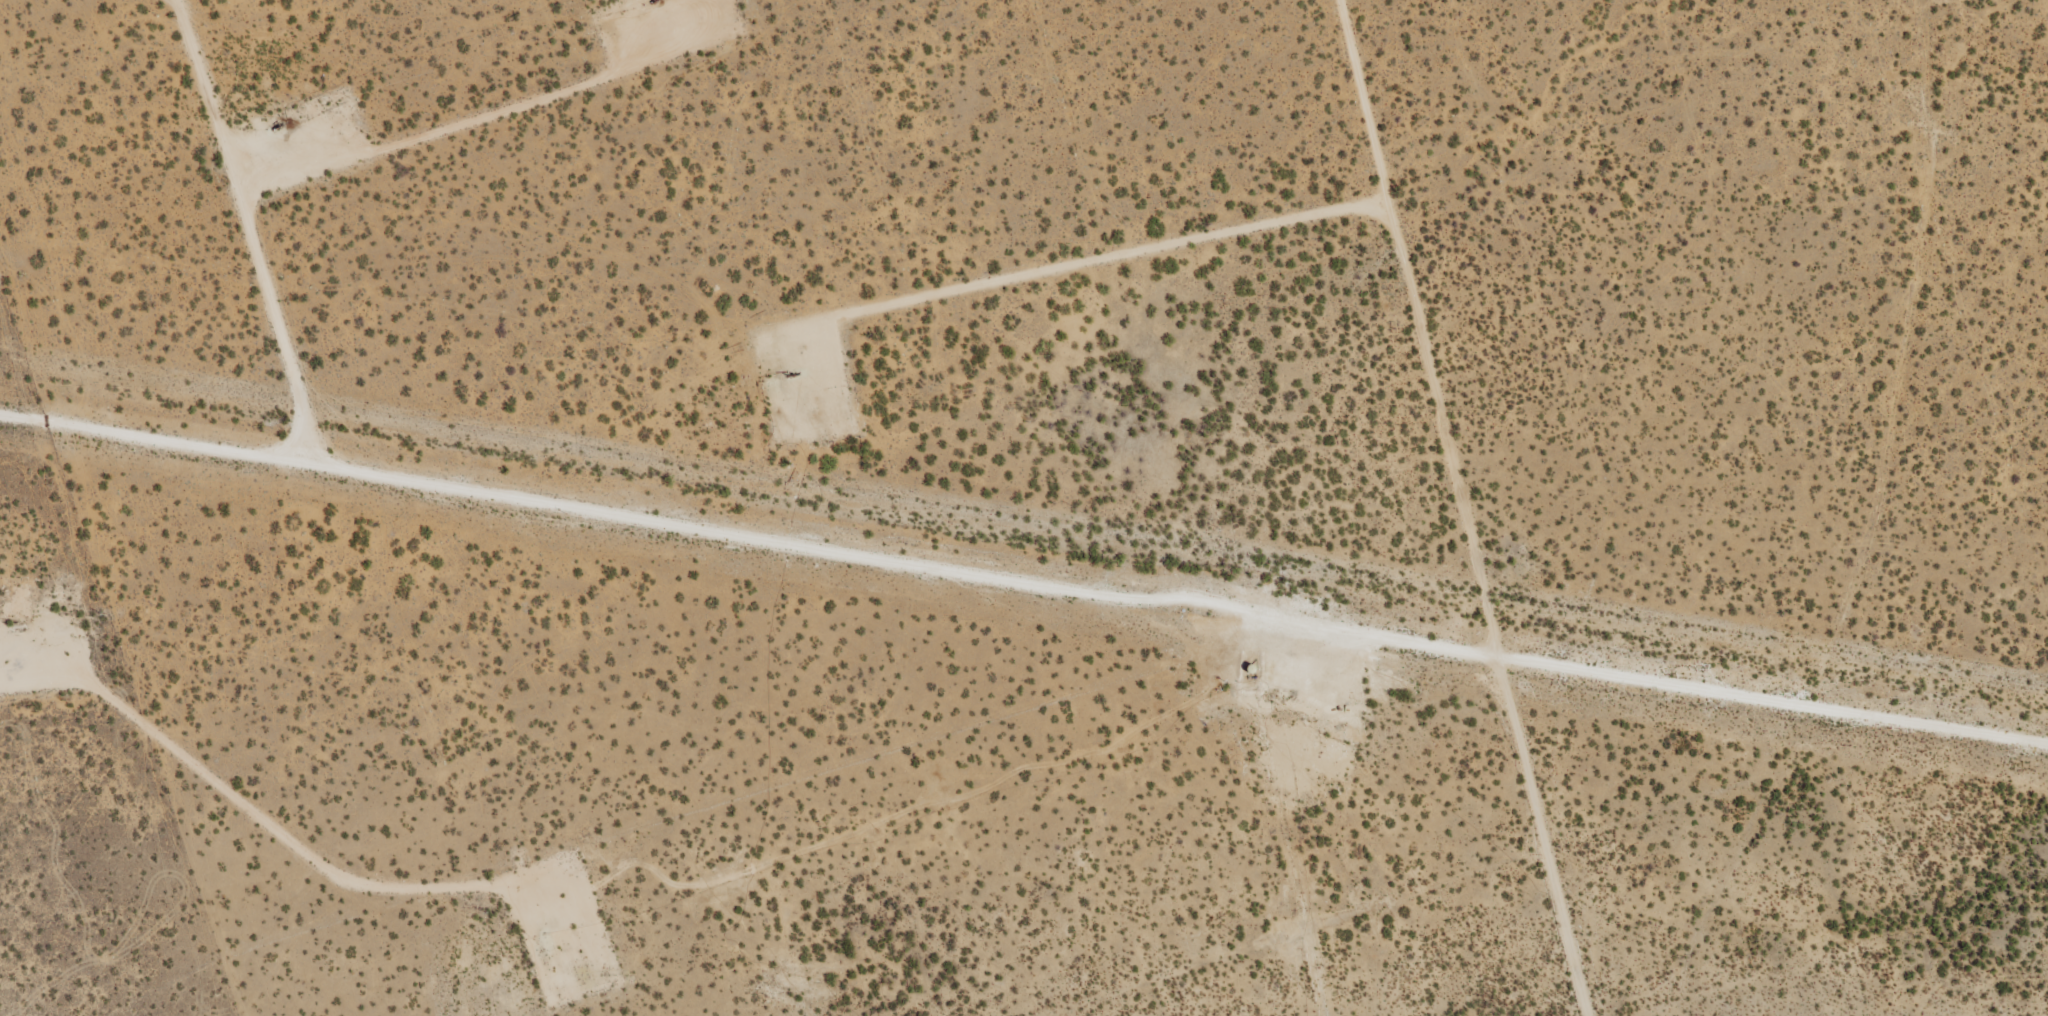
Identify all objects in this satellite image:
road: (1849, 360)
road: (1416, 511)
road: (1024, 585)

